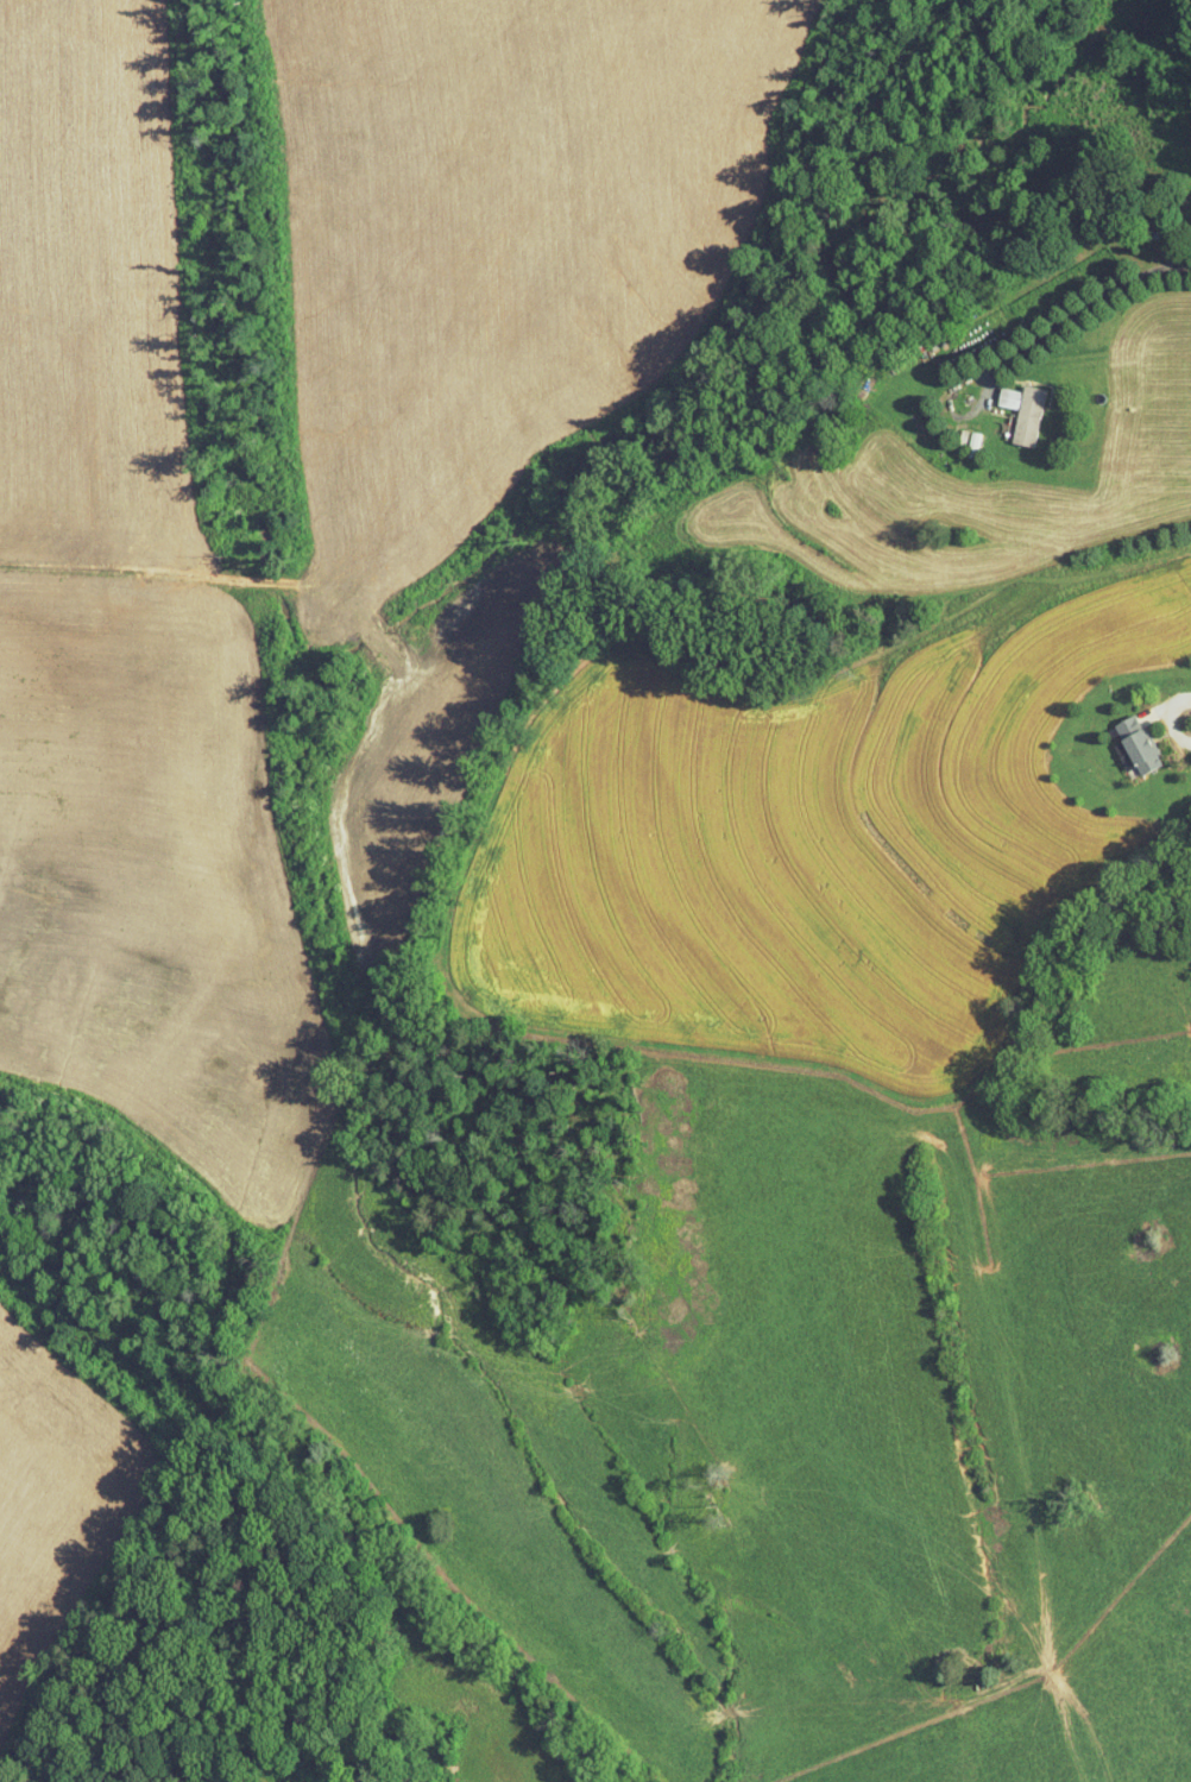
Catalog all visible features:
road: (1085, 302)
building: (1008, 403)
road: (1171, 718)
building: (1122, 737)

